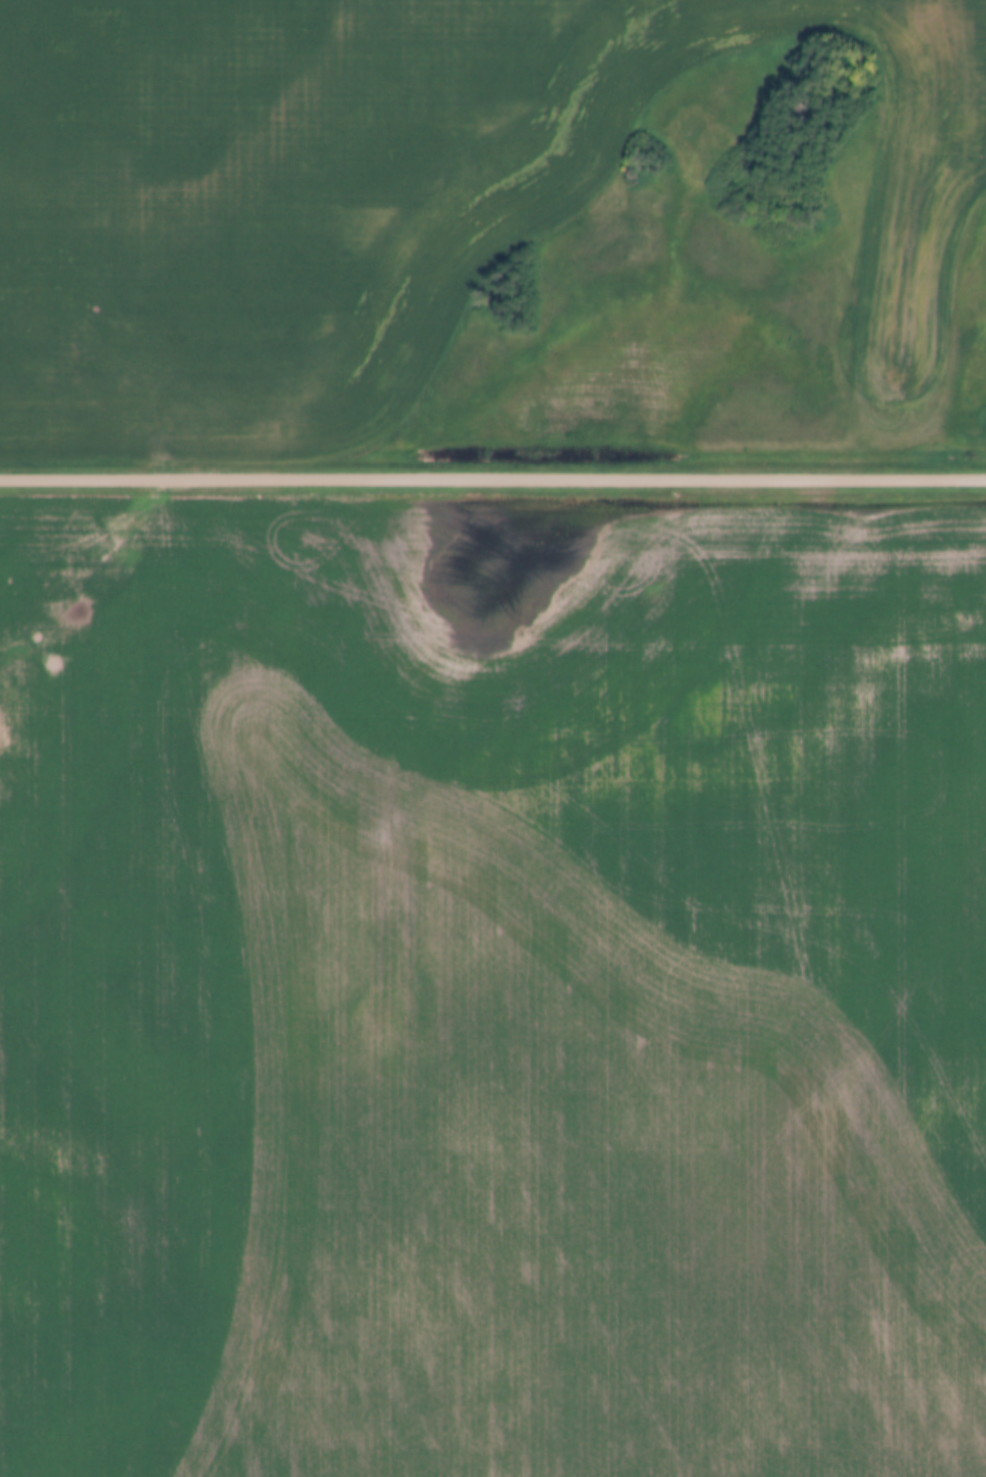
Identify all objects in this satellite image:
road: (492, 477)

